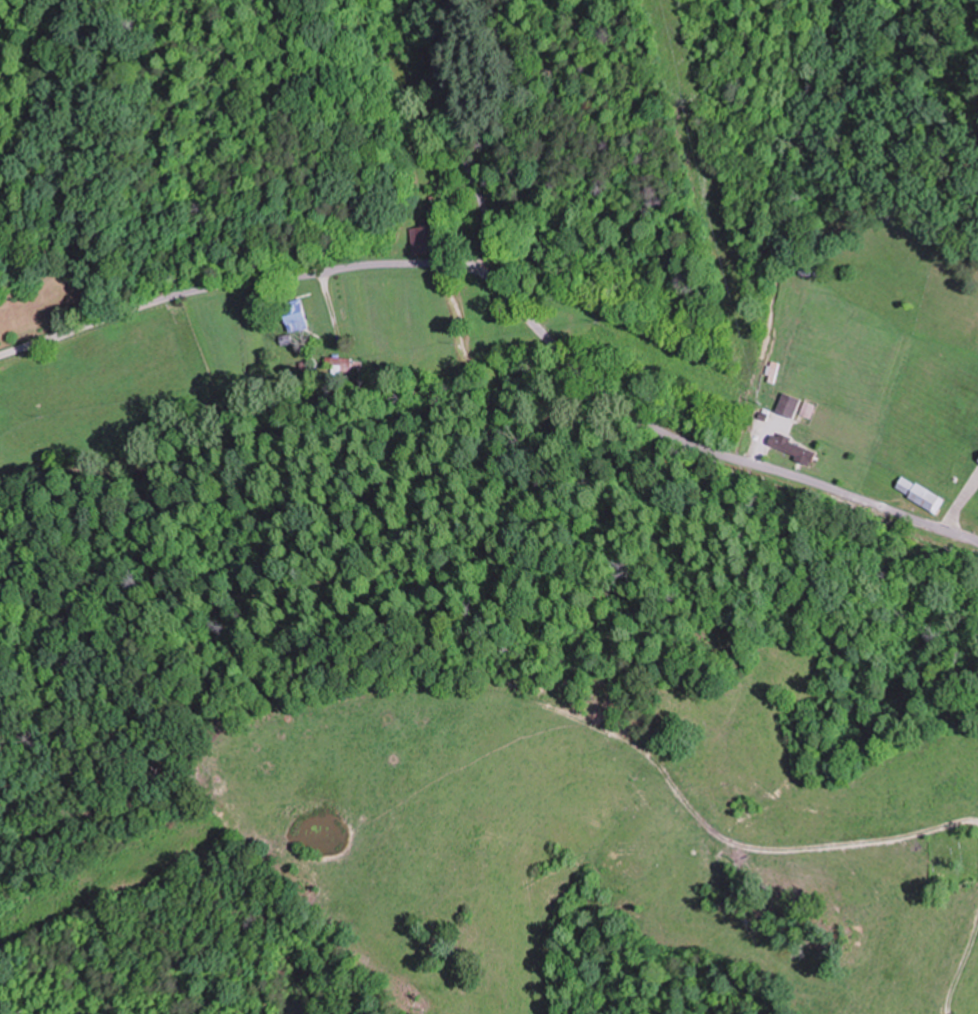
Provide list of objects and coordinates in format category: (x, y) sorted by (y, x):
road: (456, 150)
building: (429, 235)
road: (512, 299)
building: (295, 314)
building: (773, 371)
building: (788, 404)
building: (793, 448)
building: (920, 494)

